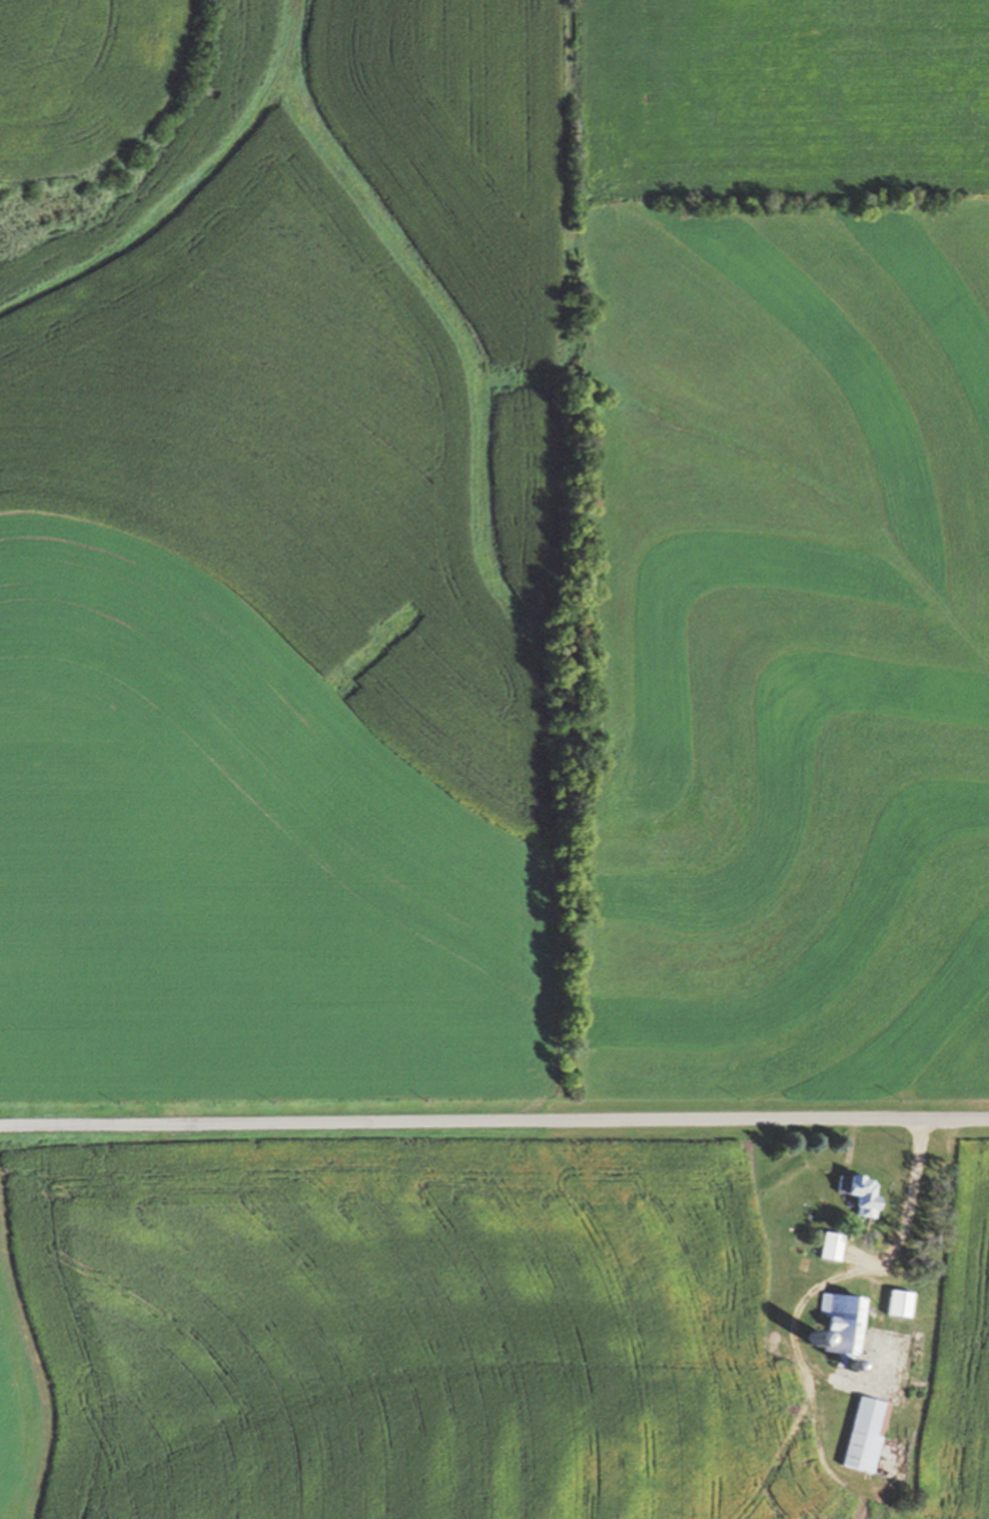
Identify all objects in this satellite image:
road: (494, 1121)
building: (858, 1191)
building: (829, 1244)
road: (809, 1291)
building: (897, 1301)
building: (840, 1321)
building: (863, 1433)

